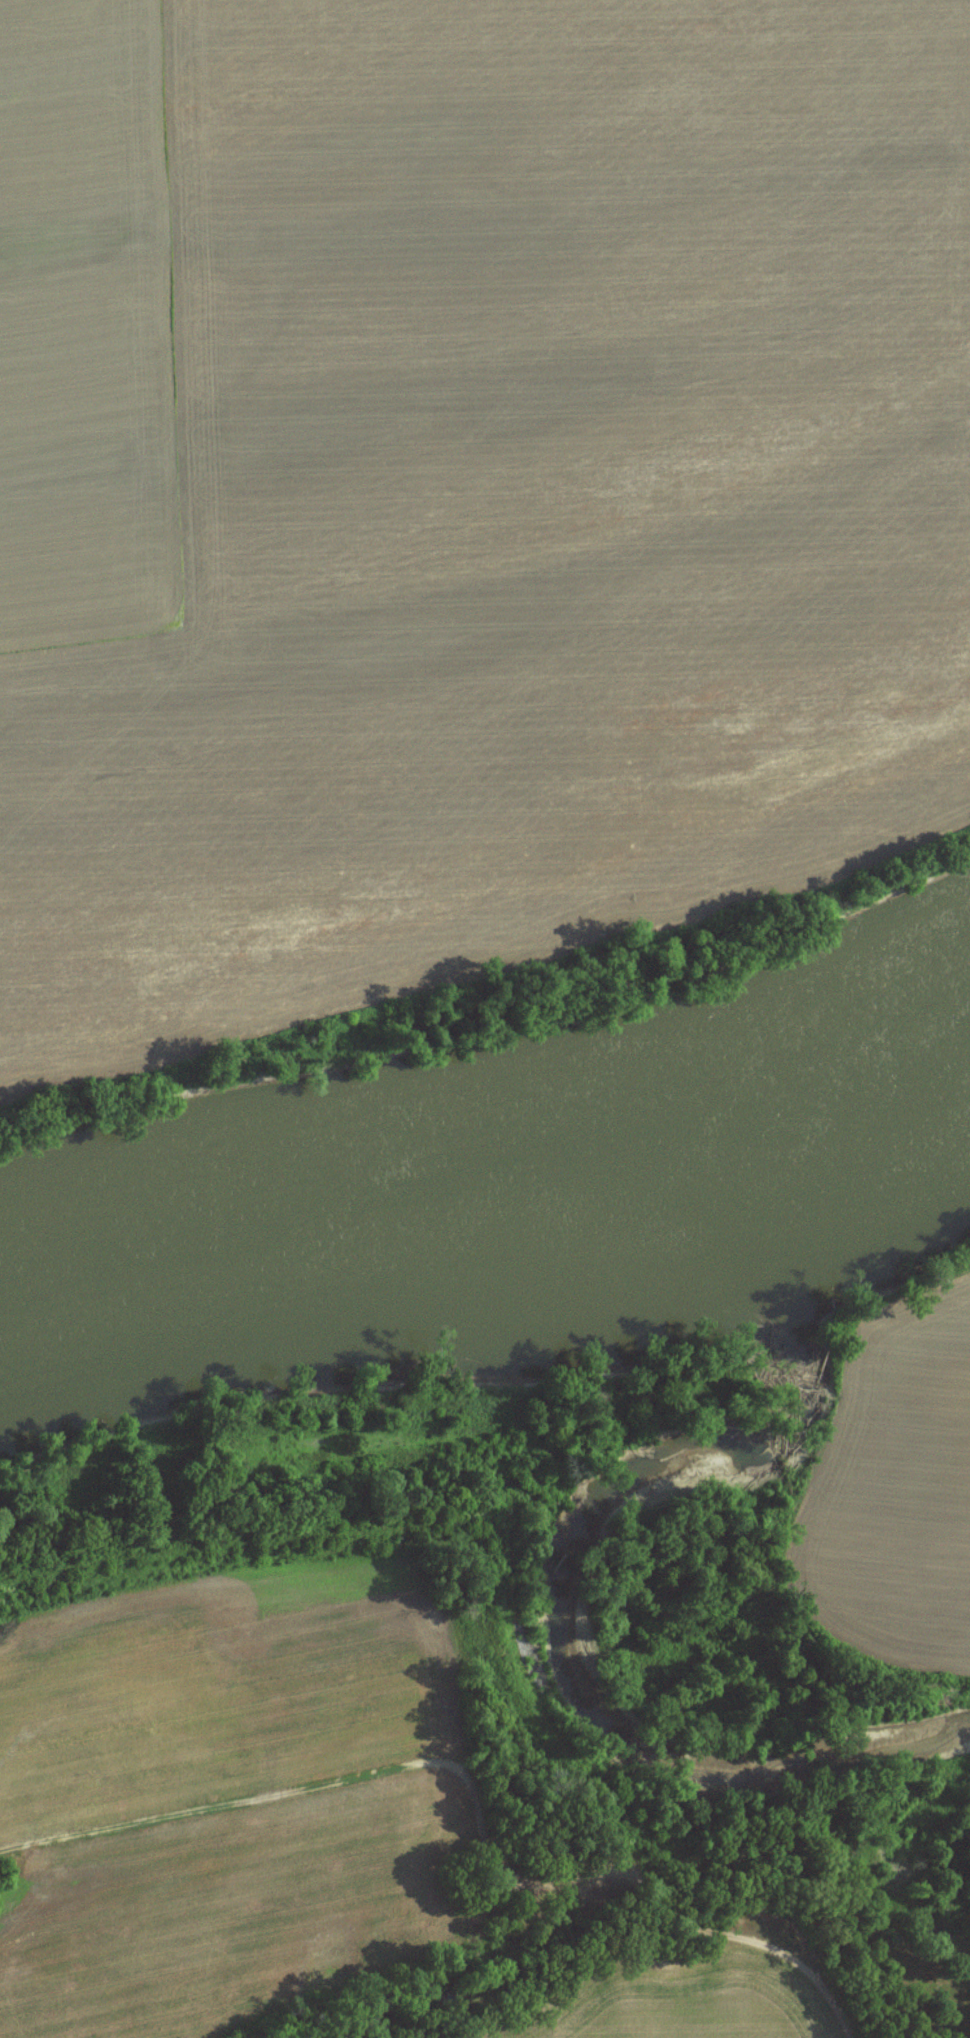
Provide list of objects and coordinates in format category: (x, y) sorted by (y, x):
river: (492, 1198)

